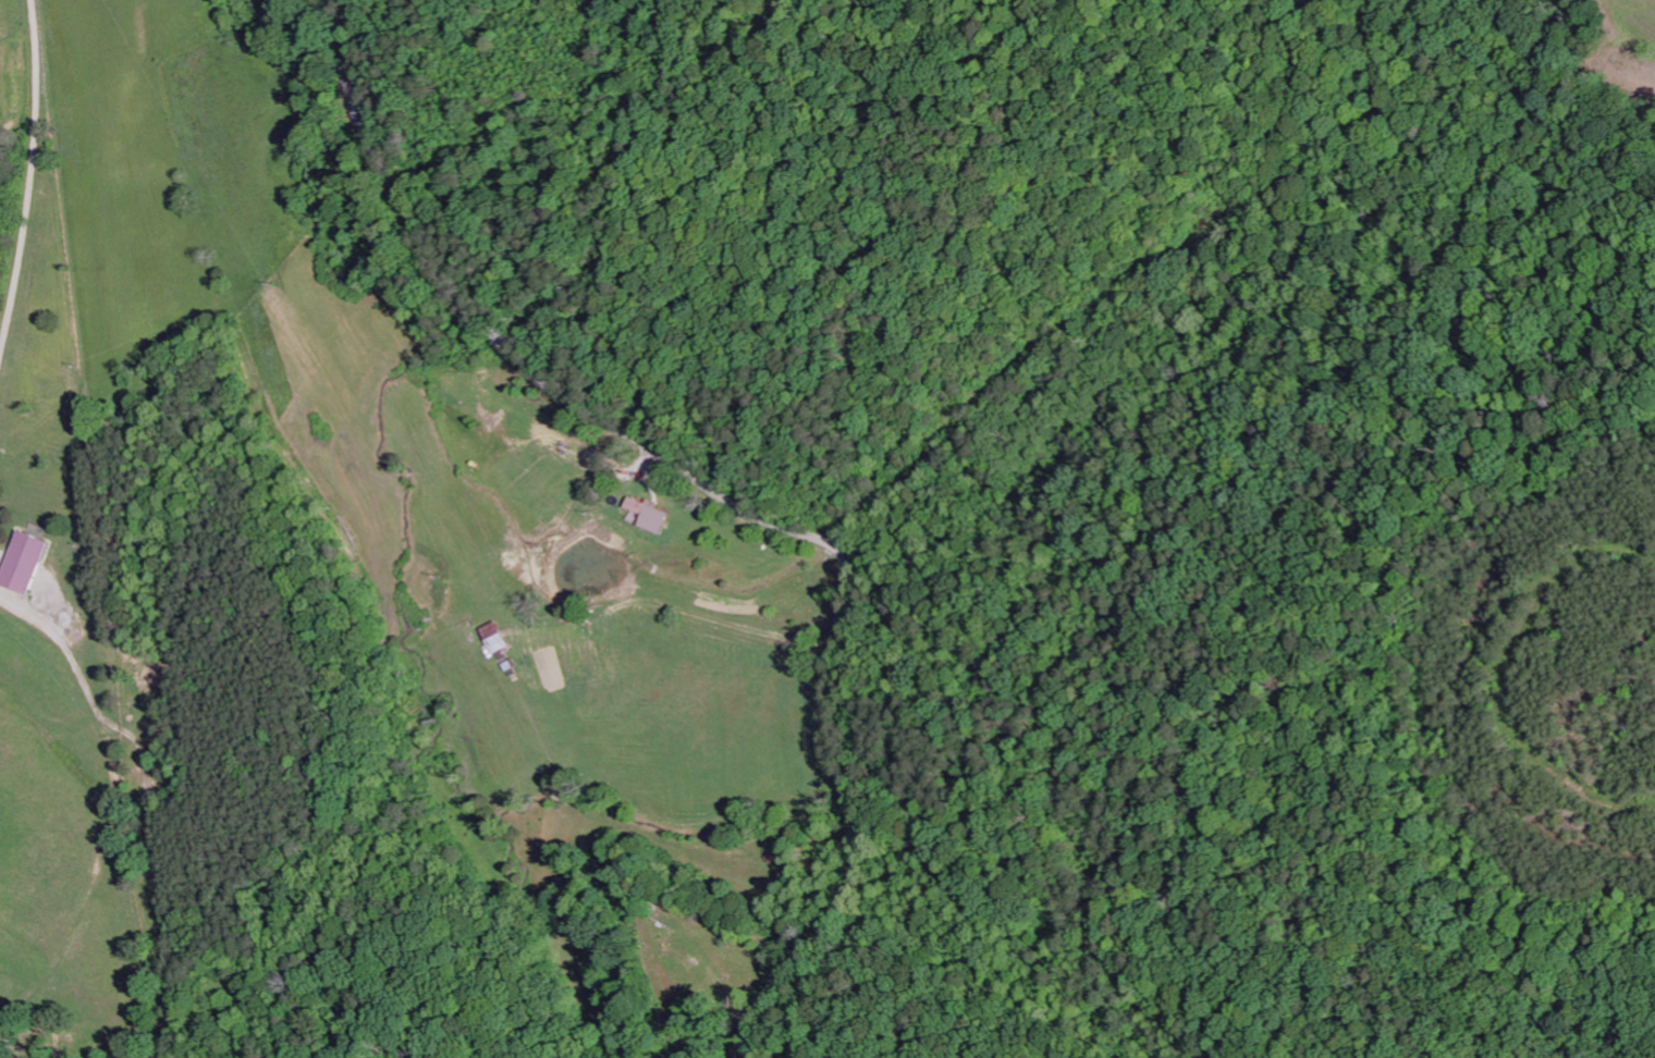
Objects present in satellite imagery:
road: (731, 500)
building: (651, 515)
building: (25, 564)
building: (495, 639)
road: (1221, 777)
road: (1524, 1049)

